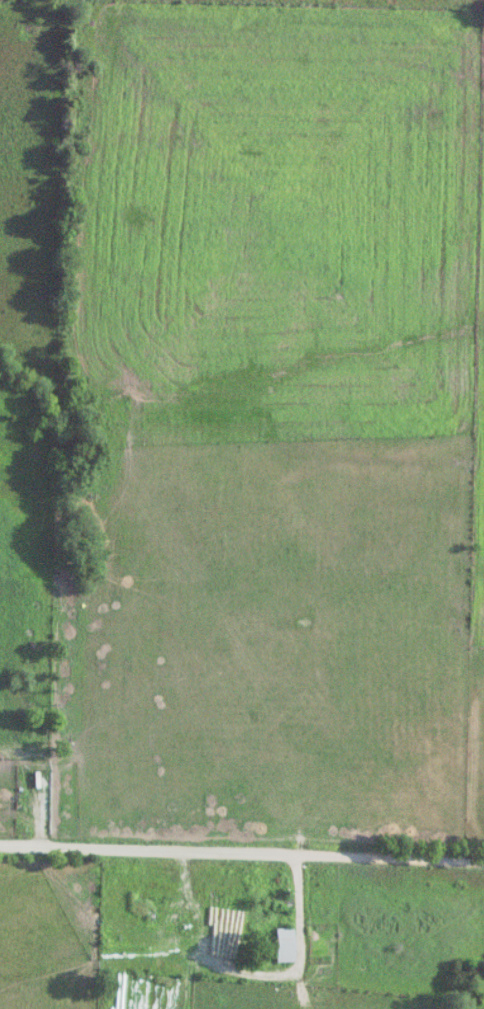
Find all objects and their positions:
road: (242, 854)
building: (289, 945)

